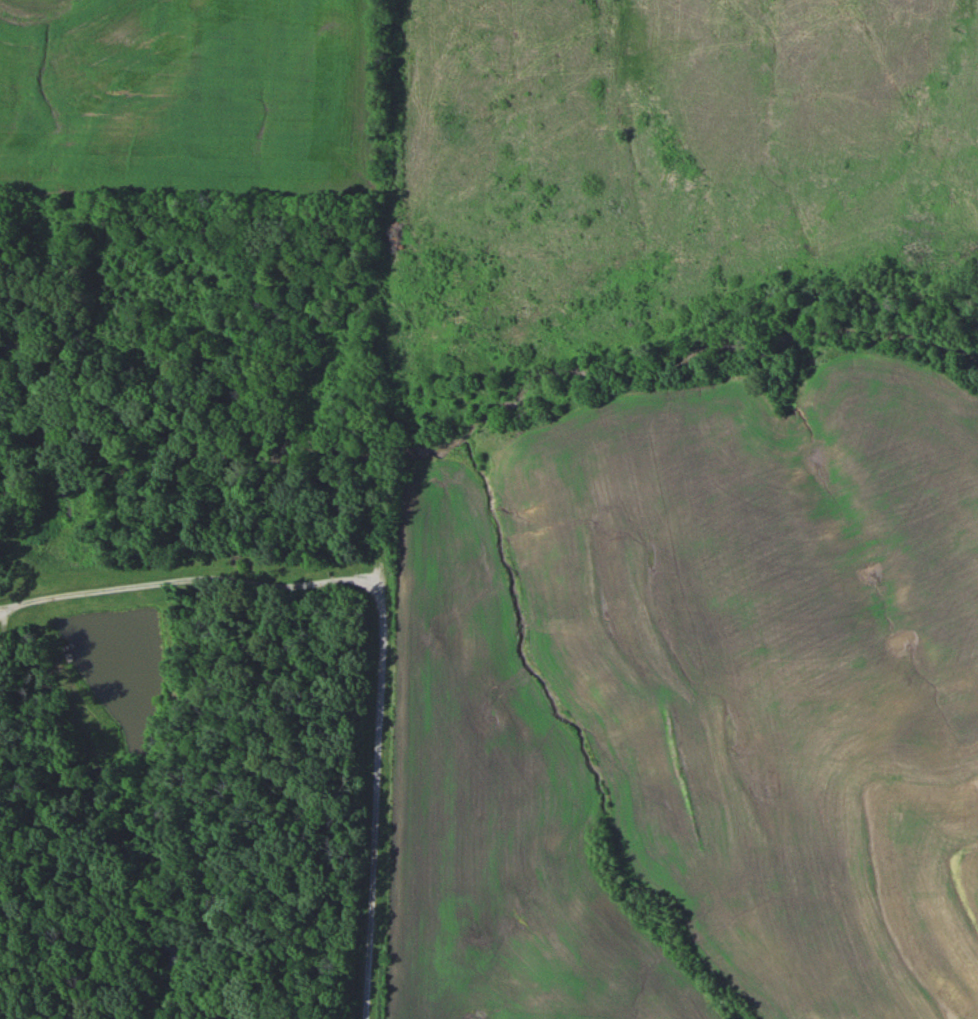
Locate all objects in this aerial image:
road: (373, 619)

